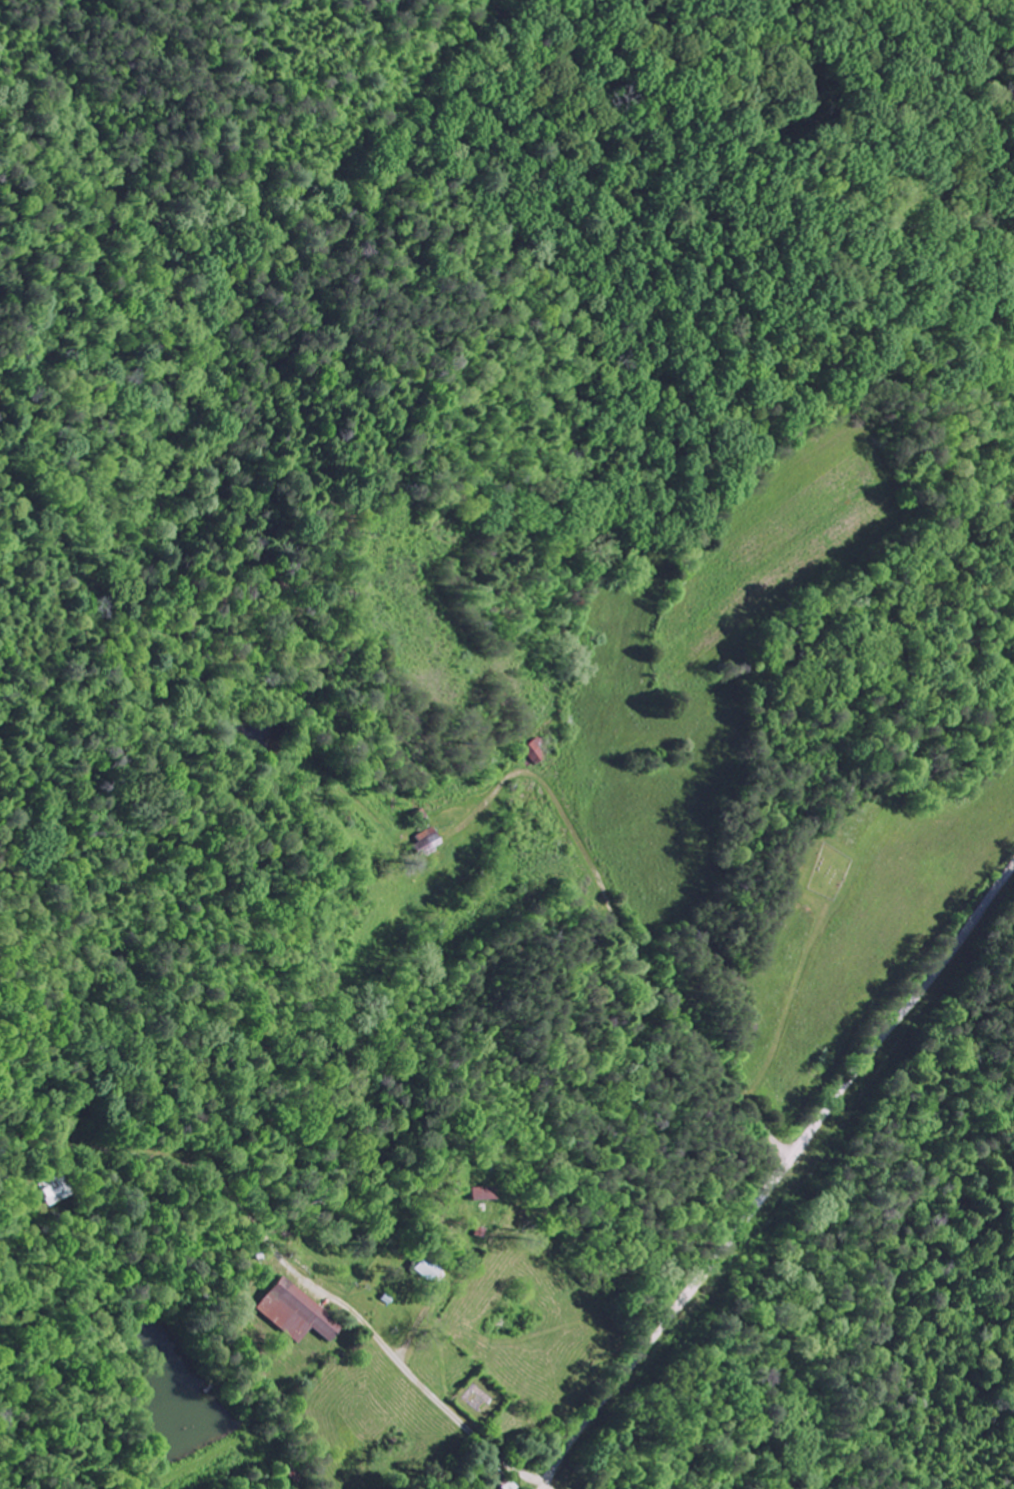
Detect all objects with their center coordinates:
building: (534, 749)
building: (419, 812)
building: (425, 838)
road: (736, 1113)
road: (100, 1156)
road: (779, 1177)
building: (52, 1187)
building: (484, 1187)
building: (428, 1266)
building: (294, 1310)
road: (373, 1333)
building: (501, 1479)
road: (549, 1485)

